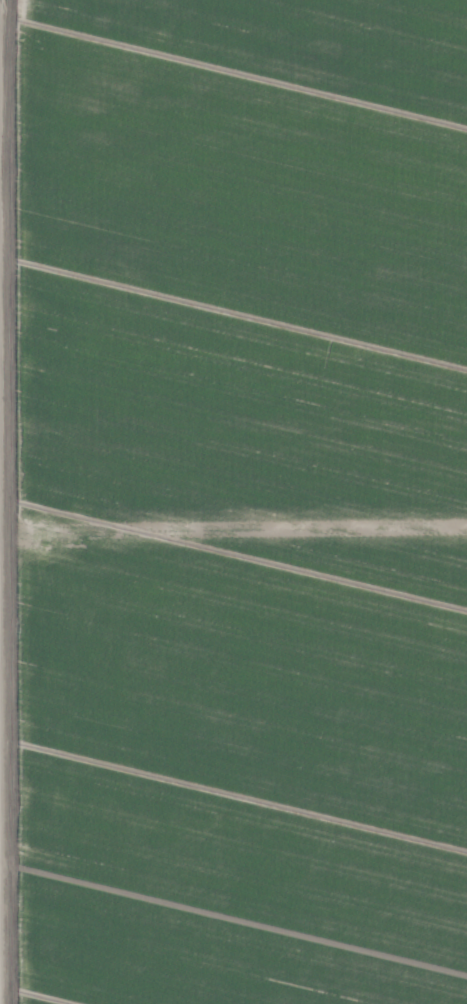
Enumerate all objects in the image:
crop: (233, 502)

